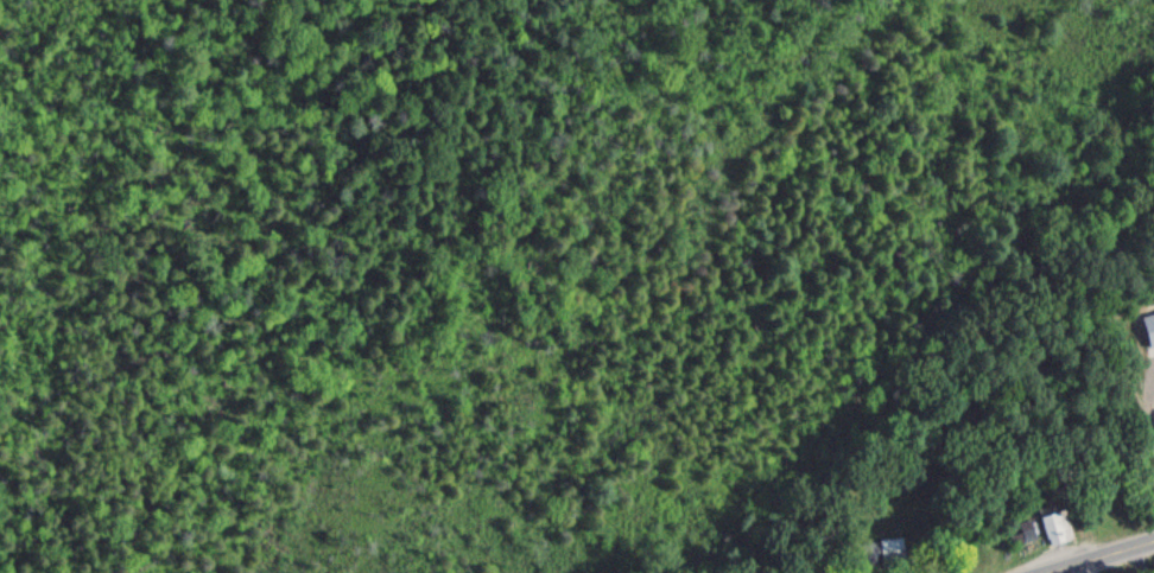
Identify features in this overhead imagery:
building: (1055, 524)
road: (1108, 559)
road: (1137, 562)

